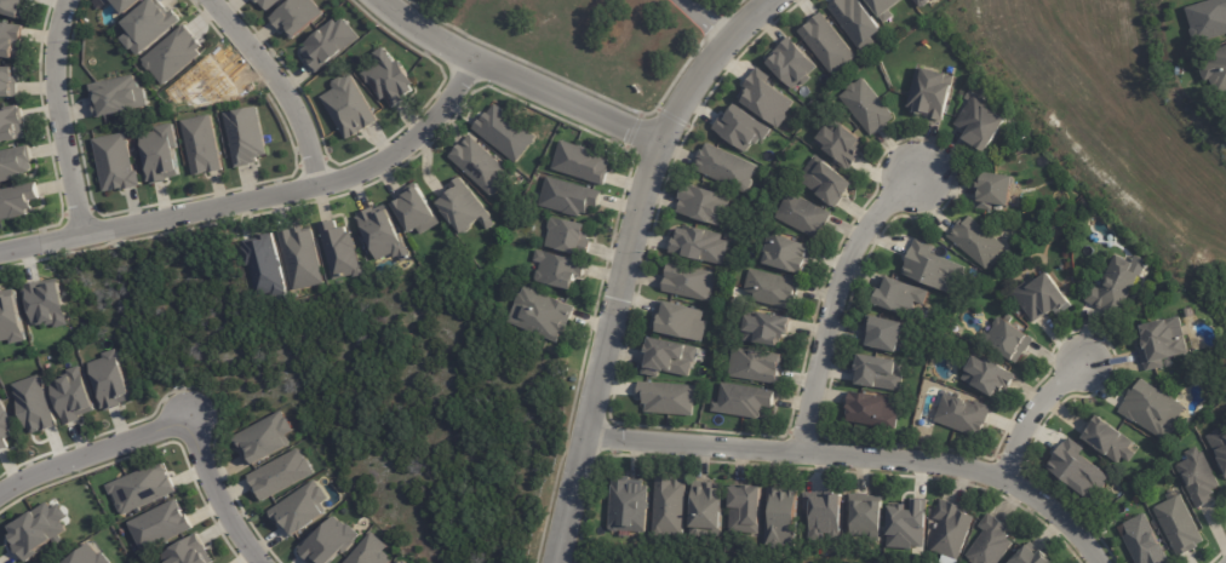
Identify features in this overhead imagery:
building: (107, 1)
building: (268, 2)
building: (922, 2)
building: (126, 4)
building: (15, 7)
building: (889, 7)
building: (297, 16)
road: (711, 19)
building: (1207, 21)
building: (858, 22)
building: (148, 25)
building: (10, 39)
building: (328, 44)
building: (827, 44)
building: (172, 53)
building: (791, 62)
building: (1215, 69)
building: (389, 77)
road: (520, 79)
building: (8, 80)
road: (277, 84)
building: (935, 93)
building: (118, 96)
building: (767, 97)
building: (349, 105)
building: (870, 107)
road: (61, 115)
building: (985, 122)
building: (11, 123)
building: (740, 127)
building: (505, 132)
building: (246, 134)
building: (202, 144)
building: (844, 145)
building: (160, 153)
building: (580, 161)
building: (15, 162)
building: (115, 162)
building: (480, 165)
building: (726, 166)
building: (830, 182)
building: (998, 191)
building: (568, 196)
road: (259, 197)
building: (17, 199)
building: (464, 206)
building: (706, 206)
building: (416, 208)
building: (806, 216)
building: (383, 232)
building: (568, 236)
building: (980, 242)
building: (1094, 243)
building: (703, 246)
building: (339, 249)
building: (790, 255)
building: (299, 257)
building: (1105, 257)
building: (262, 263)
road: (626, 263)
building: (936, 269)
building: (557, 270)
building: (693, 282)
building: (1101, 283)
building: (1121, 286)
building: (774, 291)
building: (903, 297)
building: (1043, 297)
road: (833, 300)
building: (46, 303)
building: (542, 314)
building: (10, 317)
building: (682, 322)
building: (773, 331)
building: (886, 335)
building: (1012, 340)
building: (1162, 343)
building: (671, 360)
building: (757, 367)
building: (882, 374)
building: (993, 377)
building: (110, 380)
building: (73, 395)
building: (670, 398)
building: (746, 402)
building: (34, 403)
building: (1151, 408)
building: (876, 410)
road: (1035, 410)
building: (967, 416)
building: (5, 427)
building: (264, 437)
building: (1106, 437)
building: (1218, 449)
road: (92, 455)
road: (857, 458)
building: (1075, 470)
building: (280, 473)
building: (1198, 478)
building: (141, 486)
road: (218, 494)
building: (300, 507)
building: (631, 507)
building: (671, 507)
building: (710, 511)
building: (749, 511)
building: (824, 516)
building: (870, 516)
building: (783, 518)
building: (159, 523)
building: (911, 525)
building: (1175, 527)
building: (36, 529)
building: (951, 530)
building: (328, 541)
building: (1139, 541)
building: (993, 542)
building: (188, 551)
building: (369, 551)
park: (692, 553)
building: (88, 556)
building: (1033, 556)
building: (399, 562)

